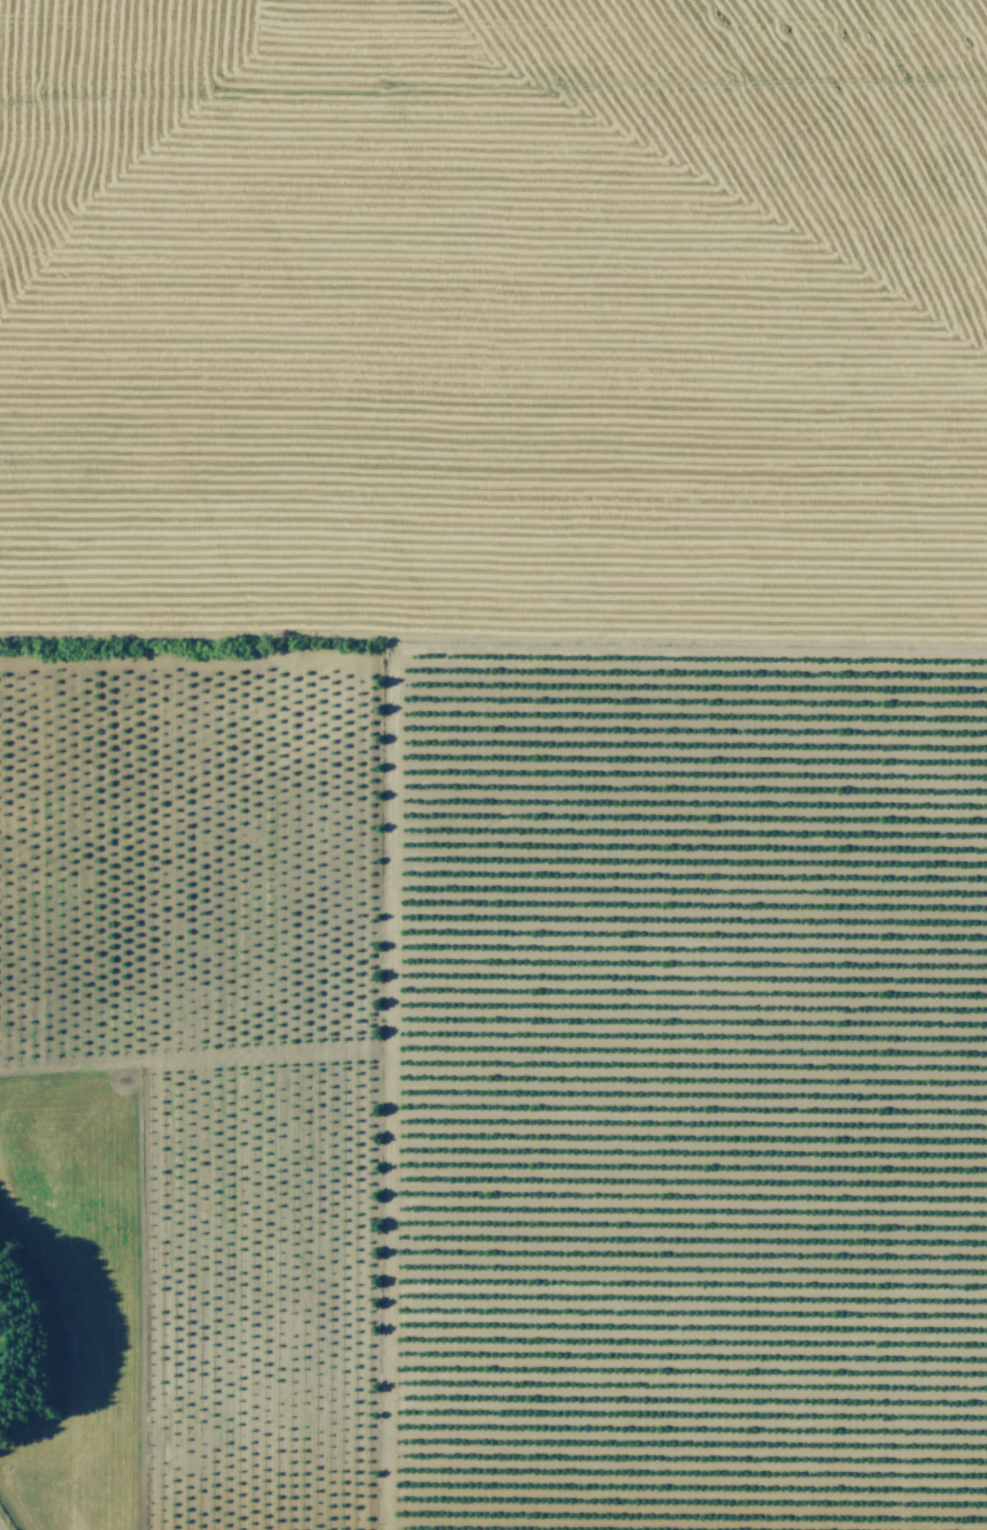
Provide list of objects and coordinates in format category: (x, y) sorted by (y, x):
crop: (493, 765)

